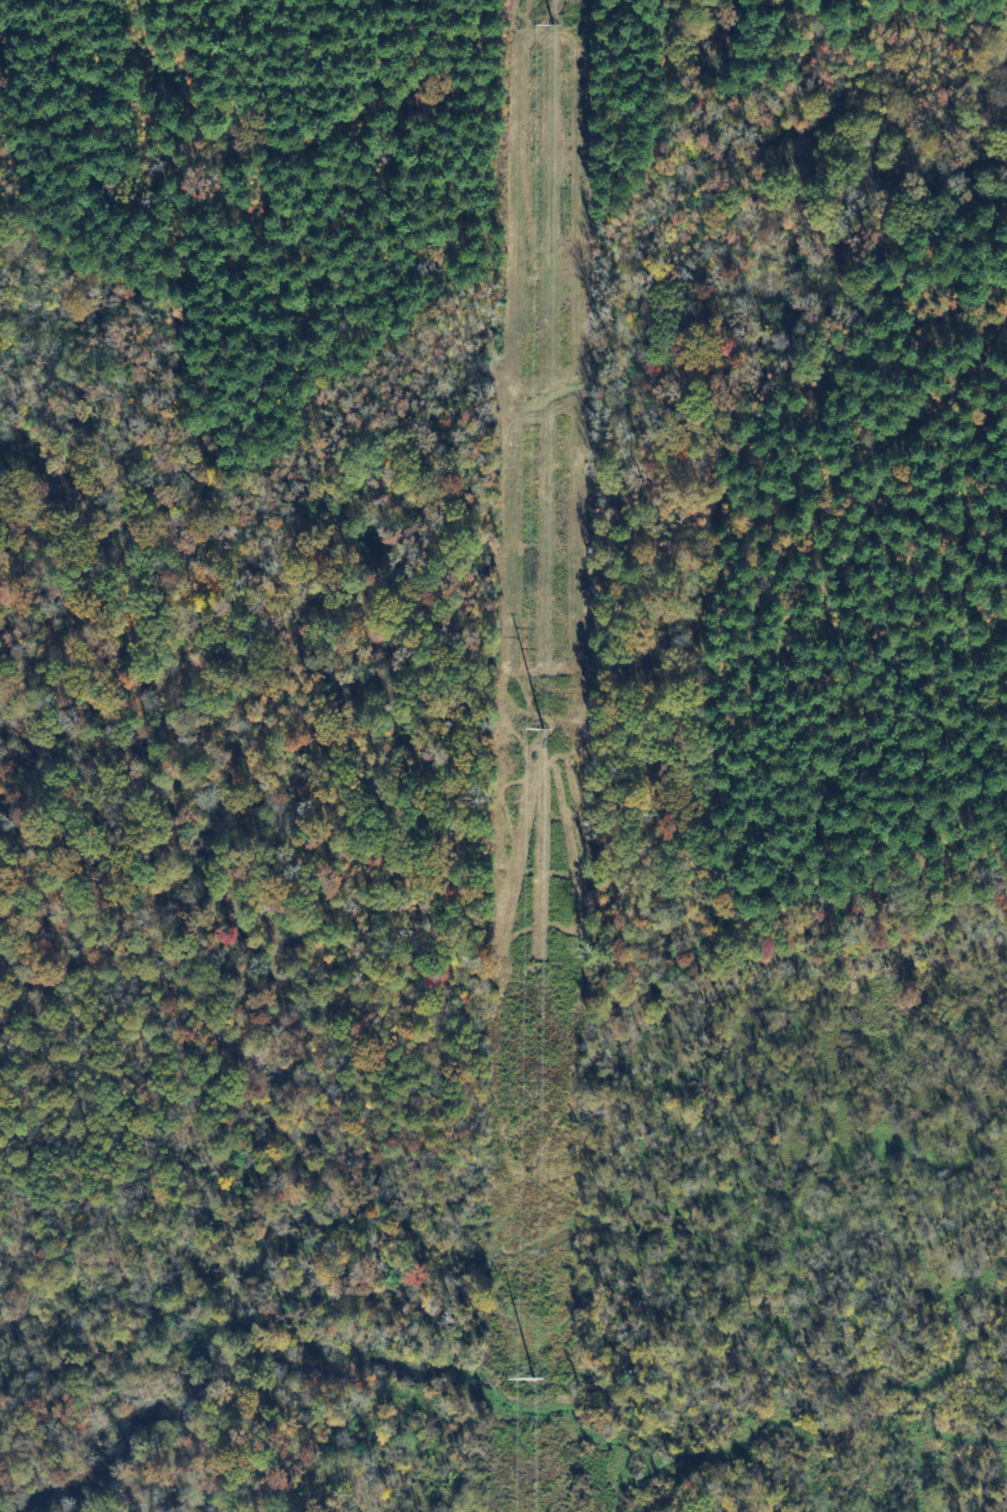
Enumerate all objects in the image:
power tower: (558, 34)
power tower: (548, 730)
power tower: (543, 1383)

